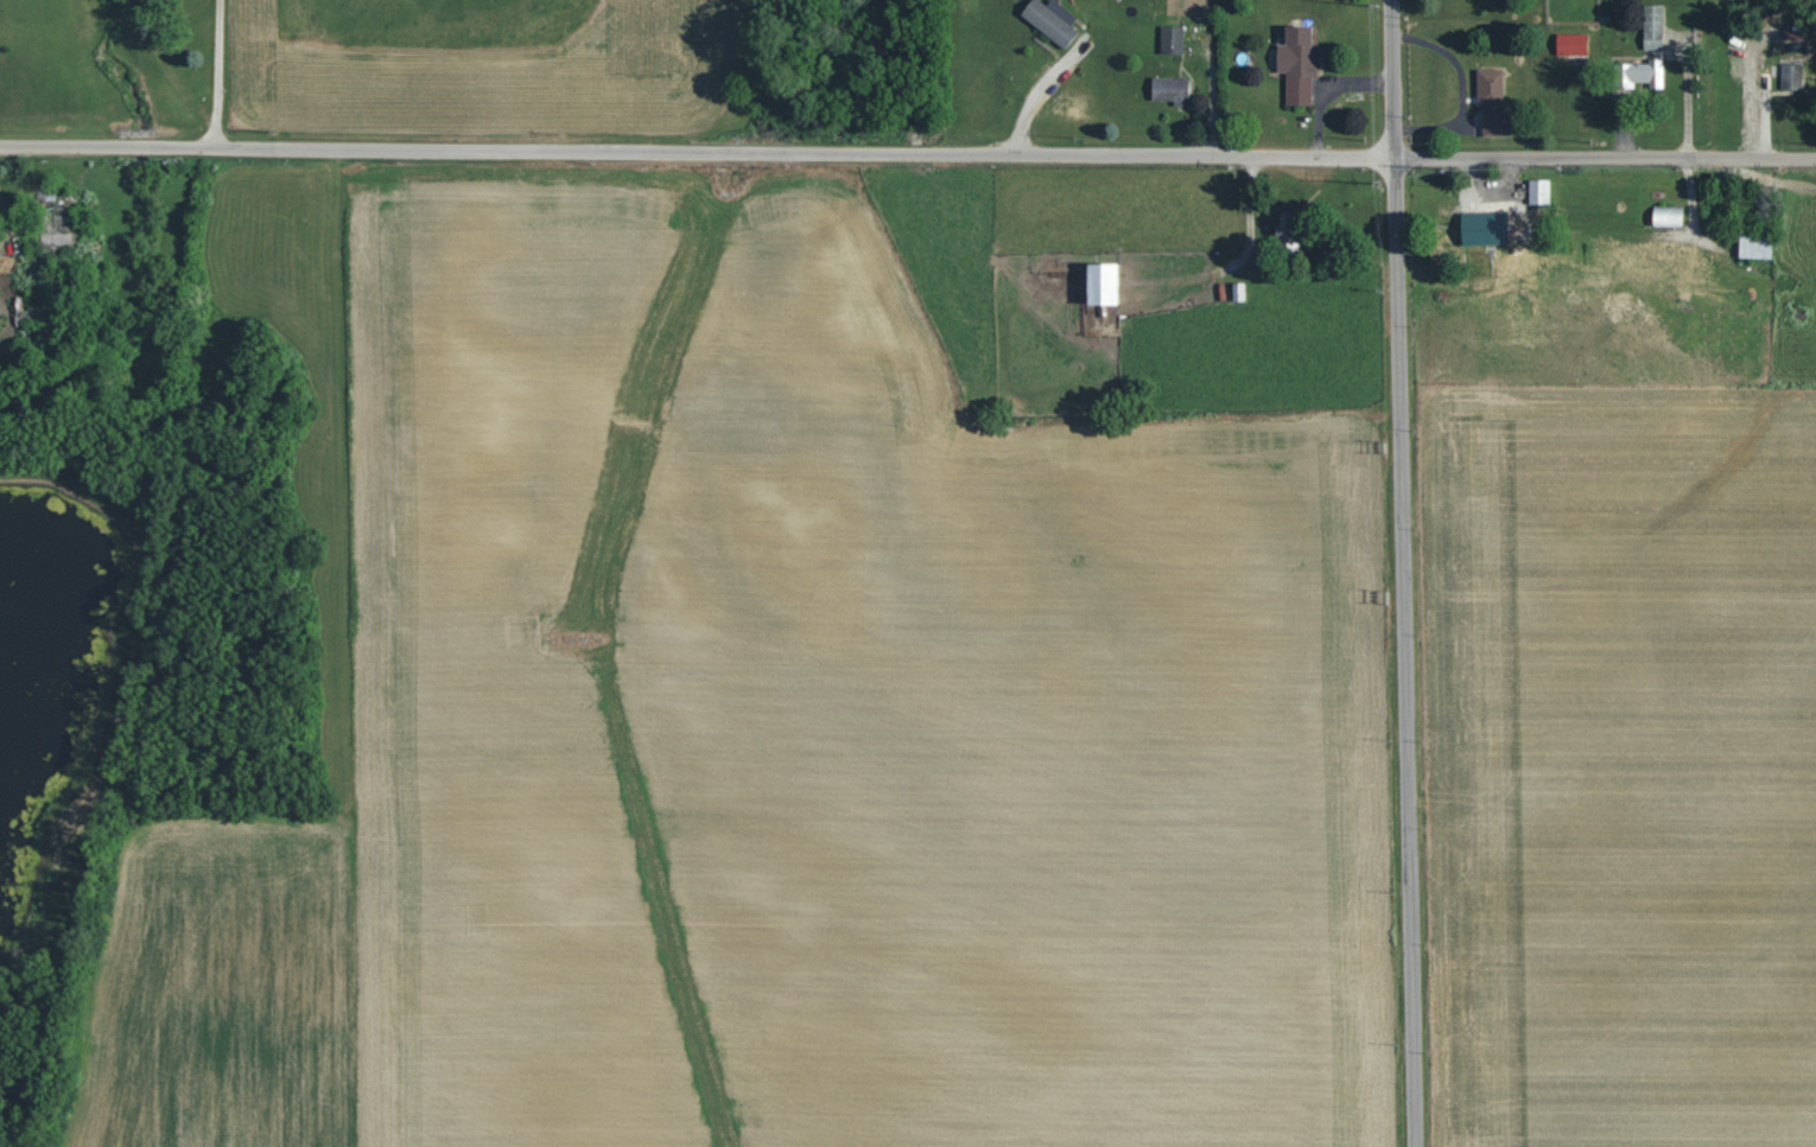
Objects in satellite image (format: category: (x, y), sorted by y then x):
building: (1049, 20)
building: (1652, 26)
building: (1170, 39)
building: (1570, 44)
building: (1297, 64)
road: (216, 74)
building: (1640, 75)
building: (1169, 89)
building: (1492, 102)
road: (908, 151)
building: (1538, 192)
building: (1666, 217)
building: (1482, 229)
building: (1287, 231)
building: (56, 240)
building: (1753, 247)
building: (1100, 285)
building: (1237, 292)
road: (1393, 573)

